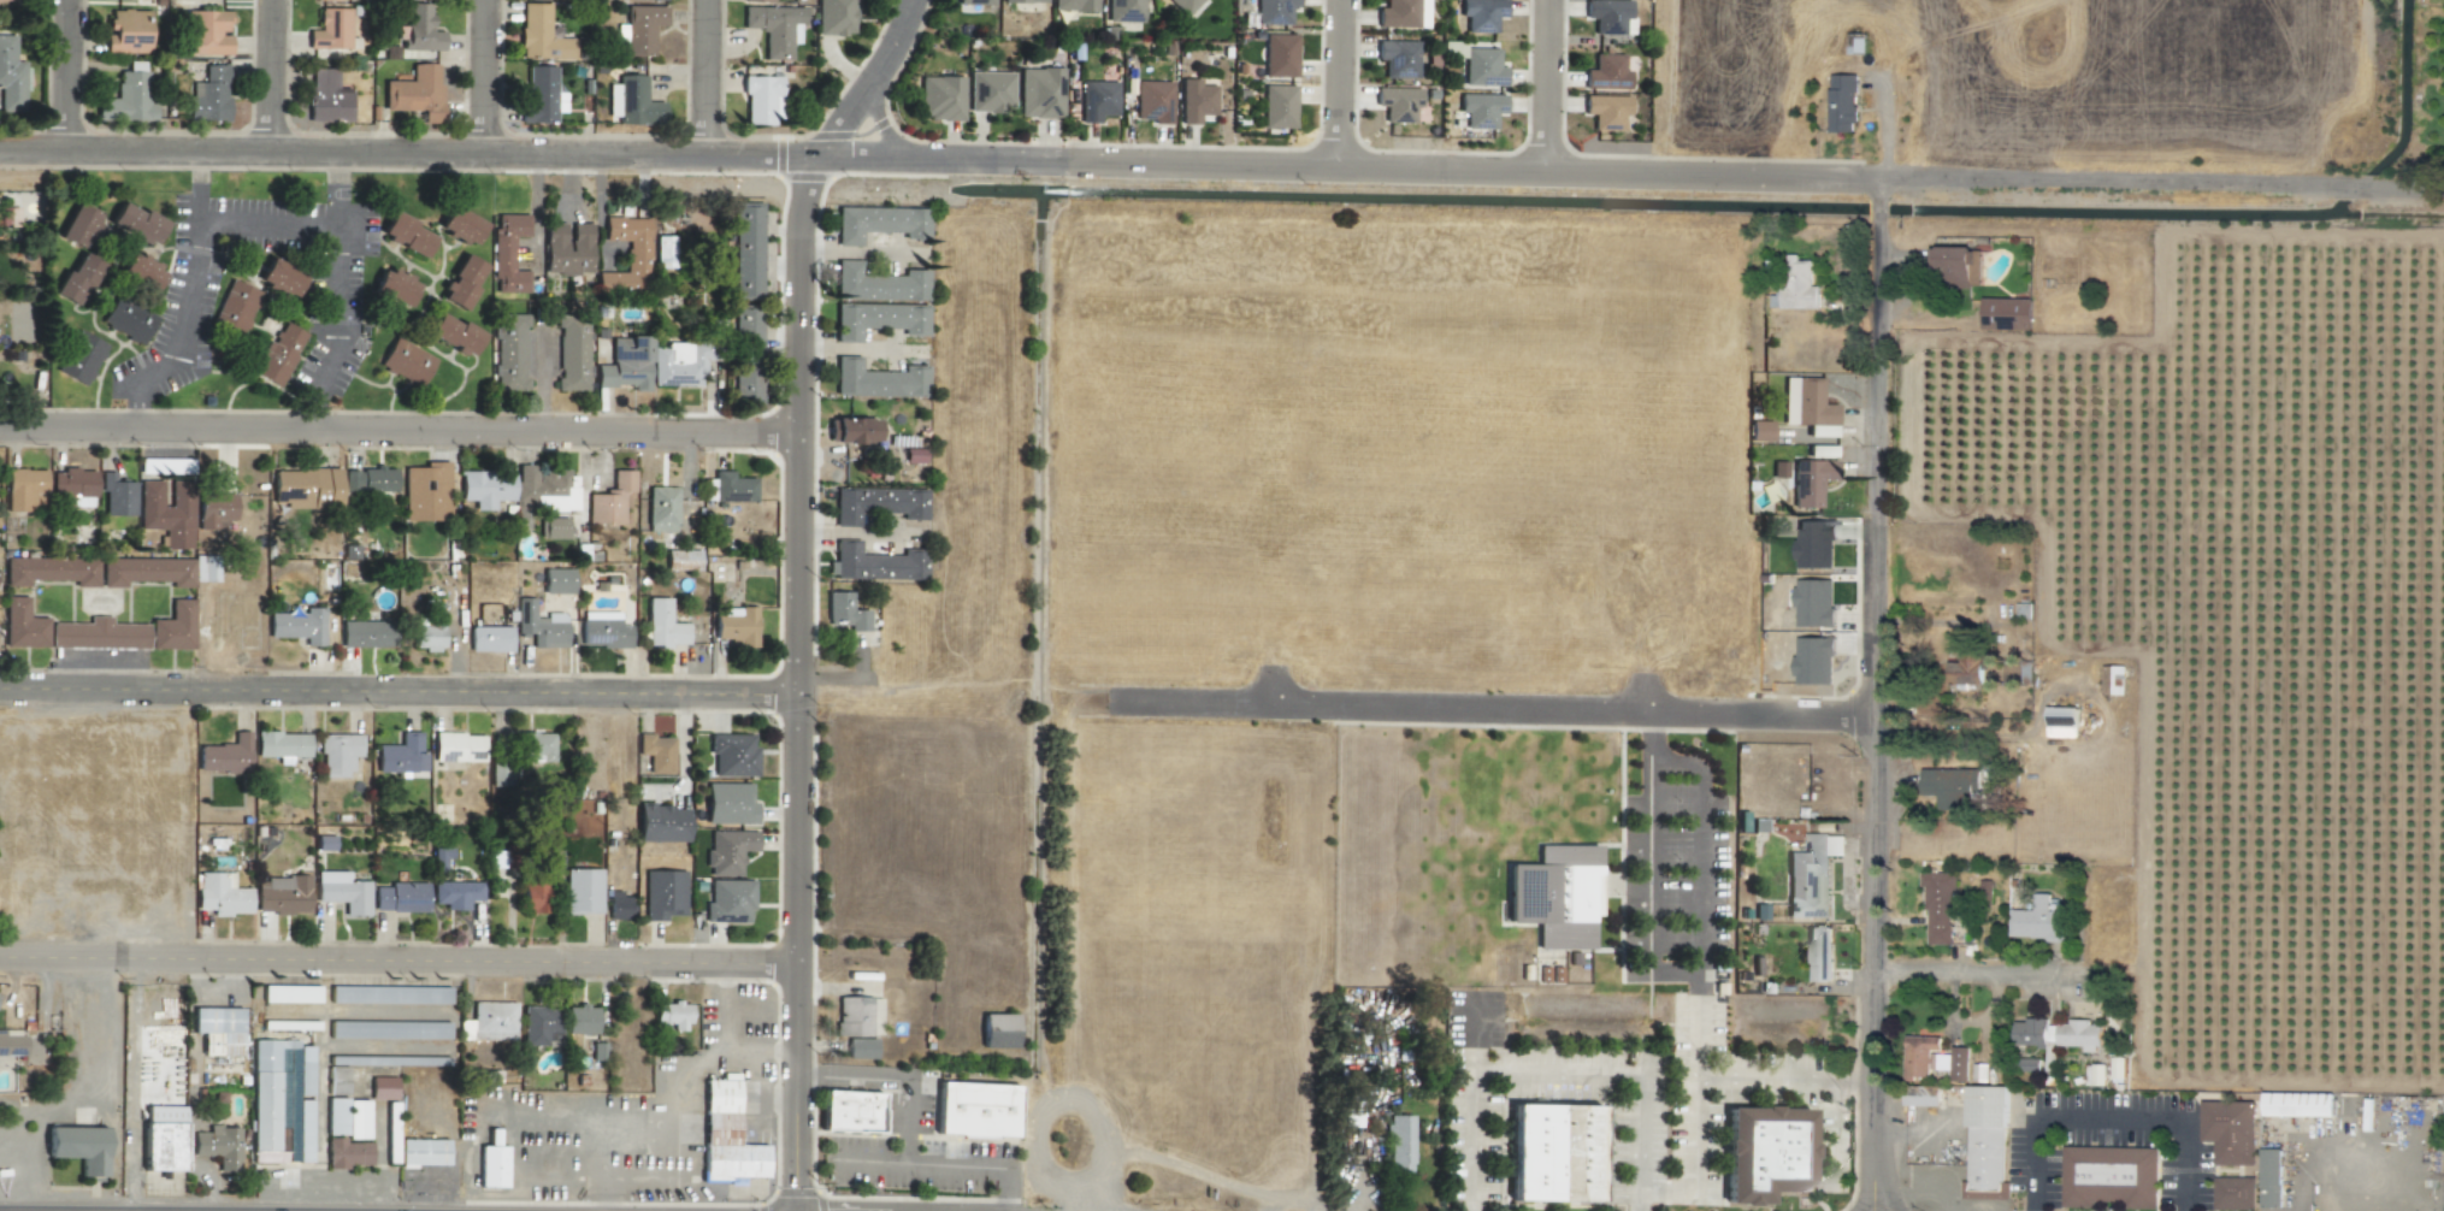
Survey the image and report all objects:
building: (7, 0)
building: (326, 0)
building: (647, 0)
building: (756, 1)
building: (1022, 1)
building: (973, 2)
building: (1073, 5)
building: (1183, 5)
building: (1123, 11)
building: (1274, 11)
building: (1422, 13)
building: (1397, 14)
building: (1481, 14)
building: (1607, 16)
building: (834, 17)
building: (774, 28)
building: (642, 29)
building: (329, 30)
building: (418, 30)
building: (126, 31)
building: (205, 34)
building: (541, 35)
road: (891, 47)
building: (1279, 55)
building: (1398, 58)
building: (1482, 67)
building: (1606, 73)
road: (70, 75)
road: (274, 75)
road: (488, 76)
road: (709, 76)
building: (10, 77)
road: (1542, 84)
road: (1334, 87)
building: (988, 91)
building: (1039, 93)
building: (415, 94)
building: (208, 95)
building: (541, 95)
building: (128, 96)
building: (326, 98)
building: (939, 99)
building: (761, 100)
building: (1097, 100)
building: (1153, 101)
building: (1196, 101)
building: (636, 104)
building: (1398, 104)
building: (1841, 104)
building: (1279, 106)
building: (1481, 111)
building: (1606, 112)
road: (844, 124)
road: (880, 130)
road: (353, 152)
road: (1575, 170)
building: (6, 218)
building: (135, 223)
road: (303, 223)
building: (879, 223)
building: (76, 224)
building: (459, 224)
building: (403, 234)
building: (566, 248)
building: (746, 250)
building: (662, 252)
building: (507, 253)
building: (627, 253)
building: (1958, 266)
building: (138, 271)
building: (277, 277)
building: (75, 278)
building: (460, 282)
building: (878, 284)
building: (1795, 285)
building: (391, 286)
road: (188, 297)
building: (235, 307)
building: (2005, 313)
building: (126, 319)
building: (878, 319)
road: (336, 327)
building: (453, 333)
building: (509, 353)
building: (746, 353)
building: (278, 354)
building: (572, 354)
building: (79, 358)
building: (405, 362)
building: (625, 364)
building: (679, 364)
building: (876, 379)
building: (1807, 406)
road: (401, 430)
building: (850, 430)
building: (1760, 431)
building: (1806, 479)
building: (368, 480)
building: (72, 486)
building: (303, 488)
building: (728, 488)
building: (22, 489)
building: (485, 489)
building: (425, 491)
building: (542, 491)
building: (116, 496)
building: (609, 500)
building: (876, 503)
building: (660, 509)
building: (213, 510)
building: (166, 512)
building: (553, 527)
building: (1813, 543)
building: (680, 560)
building: (874, 565)
building: (203, 568)
building: (49, 569)
building: (146, 571)
building: (556, 580)
building: (844, 612)
building: (539, 625)
building: (662, 625)
building: (22, 626)
building: (297, 626)
building: (736, 626)
building: (172, 627)
building: (602, 630)
building: (427, 631)
building: (366, 633)
building: (99, 634)
building: (488, 639)
building: (1962, 671)
building: (2015, 672)
road: (401, 687)
road: (1881, 695)
road: (1498, 705)
road: (802, 707)
building: (2060, 721)
road: (1649, 736)
building: (281, 745)
building: (536, 746)
building: (456, 748)
building: (337, 754)
building: (656, 754)
building: (224, 755)
building: (401, 755)
building: (732, 755)
building: (498, 774)
building: (1949, 786)
building: (728, 803)
building: (661, 823)
building: (324, 843)
building: (727, 851)
building: (439, 857)
building: (496, 861)
building: (1811, 875)
building: (580, 891)
building: (342, 892)
building: (220, 894)
building: (282, 894)
building: (454, 894)
building: (663, 894)
road: (1648, 894)
building: (400, 897)
building: (532, 897)
building: (728, 902)
building: (618, 906)
building: (1937, 906)
building: (2036, 921)
building: (1818, 953)
road: (401, 958)
road: (1984, 970)
road: (1698, 987)
building: (388, 994)
building: (671, 1015)
building: (857, 1016)
building: (579, 1020)
building: (489, 1022)
building: (538, 1026)
building: (217, 1029)
building: (388, 1030)
building: (997, 1030)
road: (1476, 1034)
building: (2055, 1035)
building: (12, 1045)
building: (858, 1048)
building: (598, 1052)
building: (1931, 1058)
building: (383, 1061)
building: (2029, 1064)
building: (1978, 1071)
road: (1557, 1073)
building: (337, 1081)
building: (382, 1088)
building: (1920, 1095)
building: (264, 1103)
building: (2297, 1104)
building: (976, 1110)
building: (849, 1111)
building: (336, 1116)
building: (356, 1120)
road: (2108, 1120)
building: (2228, 1130)
road: (1832, 1134)
building: (726, 1135)
building: (161, 1138)
building: (1984, 1139)
building: (1399, 1144)
building: (217, 1146)
building: (78, 1147)
building: (303, 1150)
building: (421, 1152)
building: (347, 1153)
building: (1553, 1153)
building: (1765, 1153)
building: (491, 1163)
road: (1695, 1165)
building: (2108, 1176)
building: (2268, 1177)
building: (2233, 1193)

